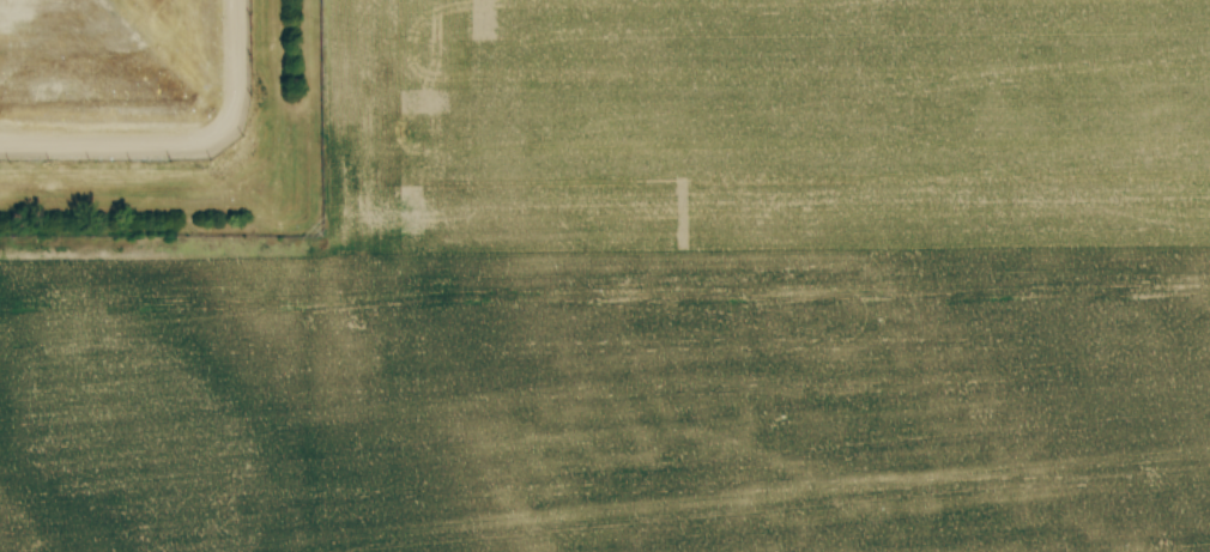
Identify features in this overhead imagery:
road: (204, 172)
crop: (670, 297)

